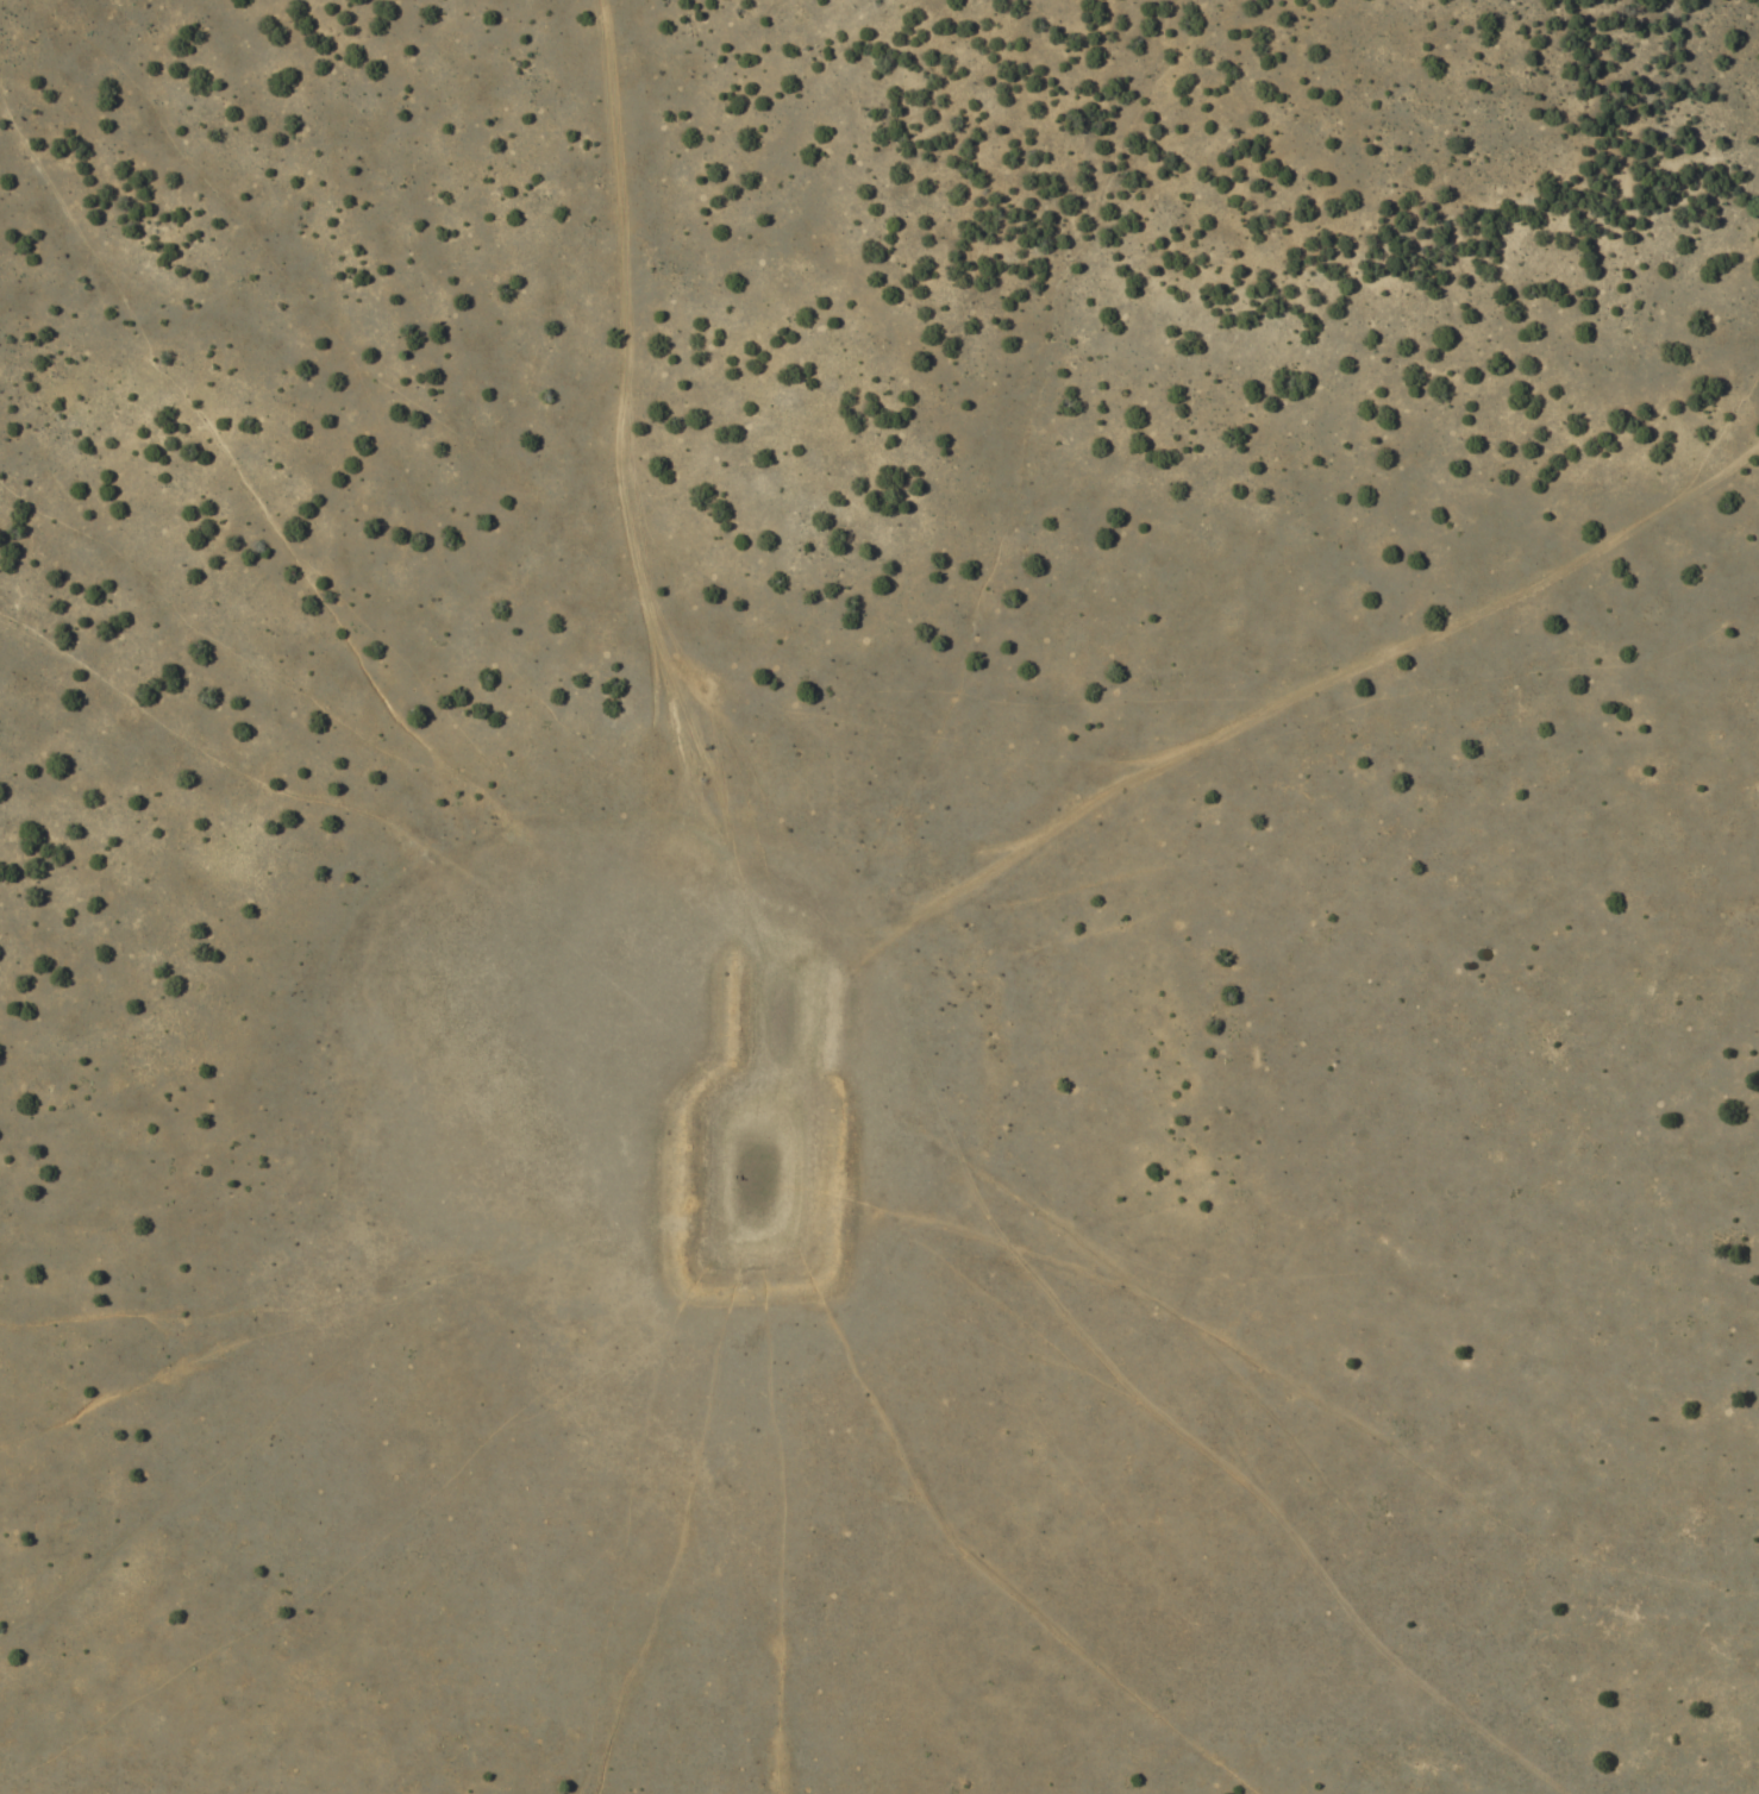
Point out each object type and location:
road: (839, 936)

